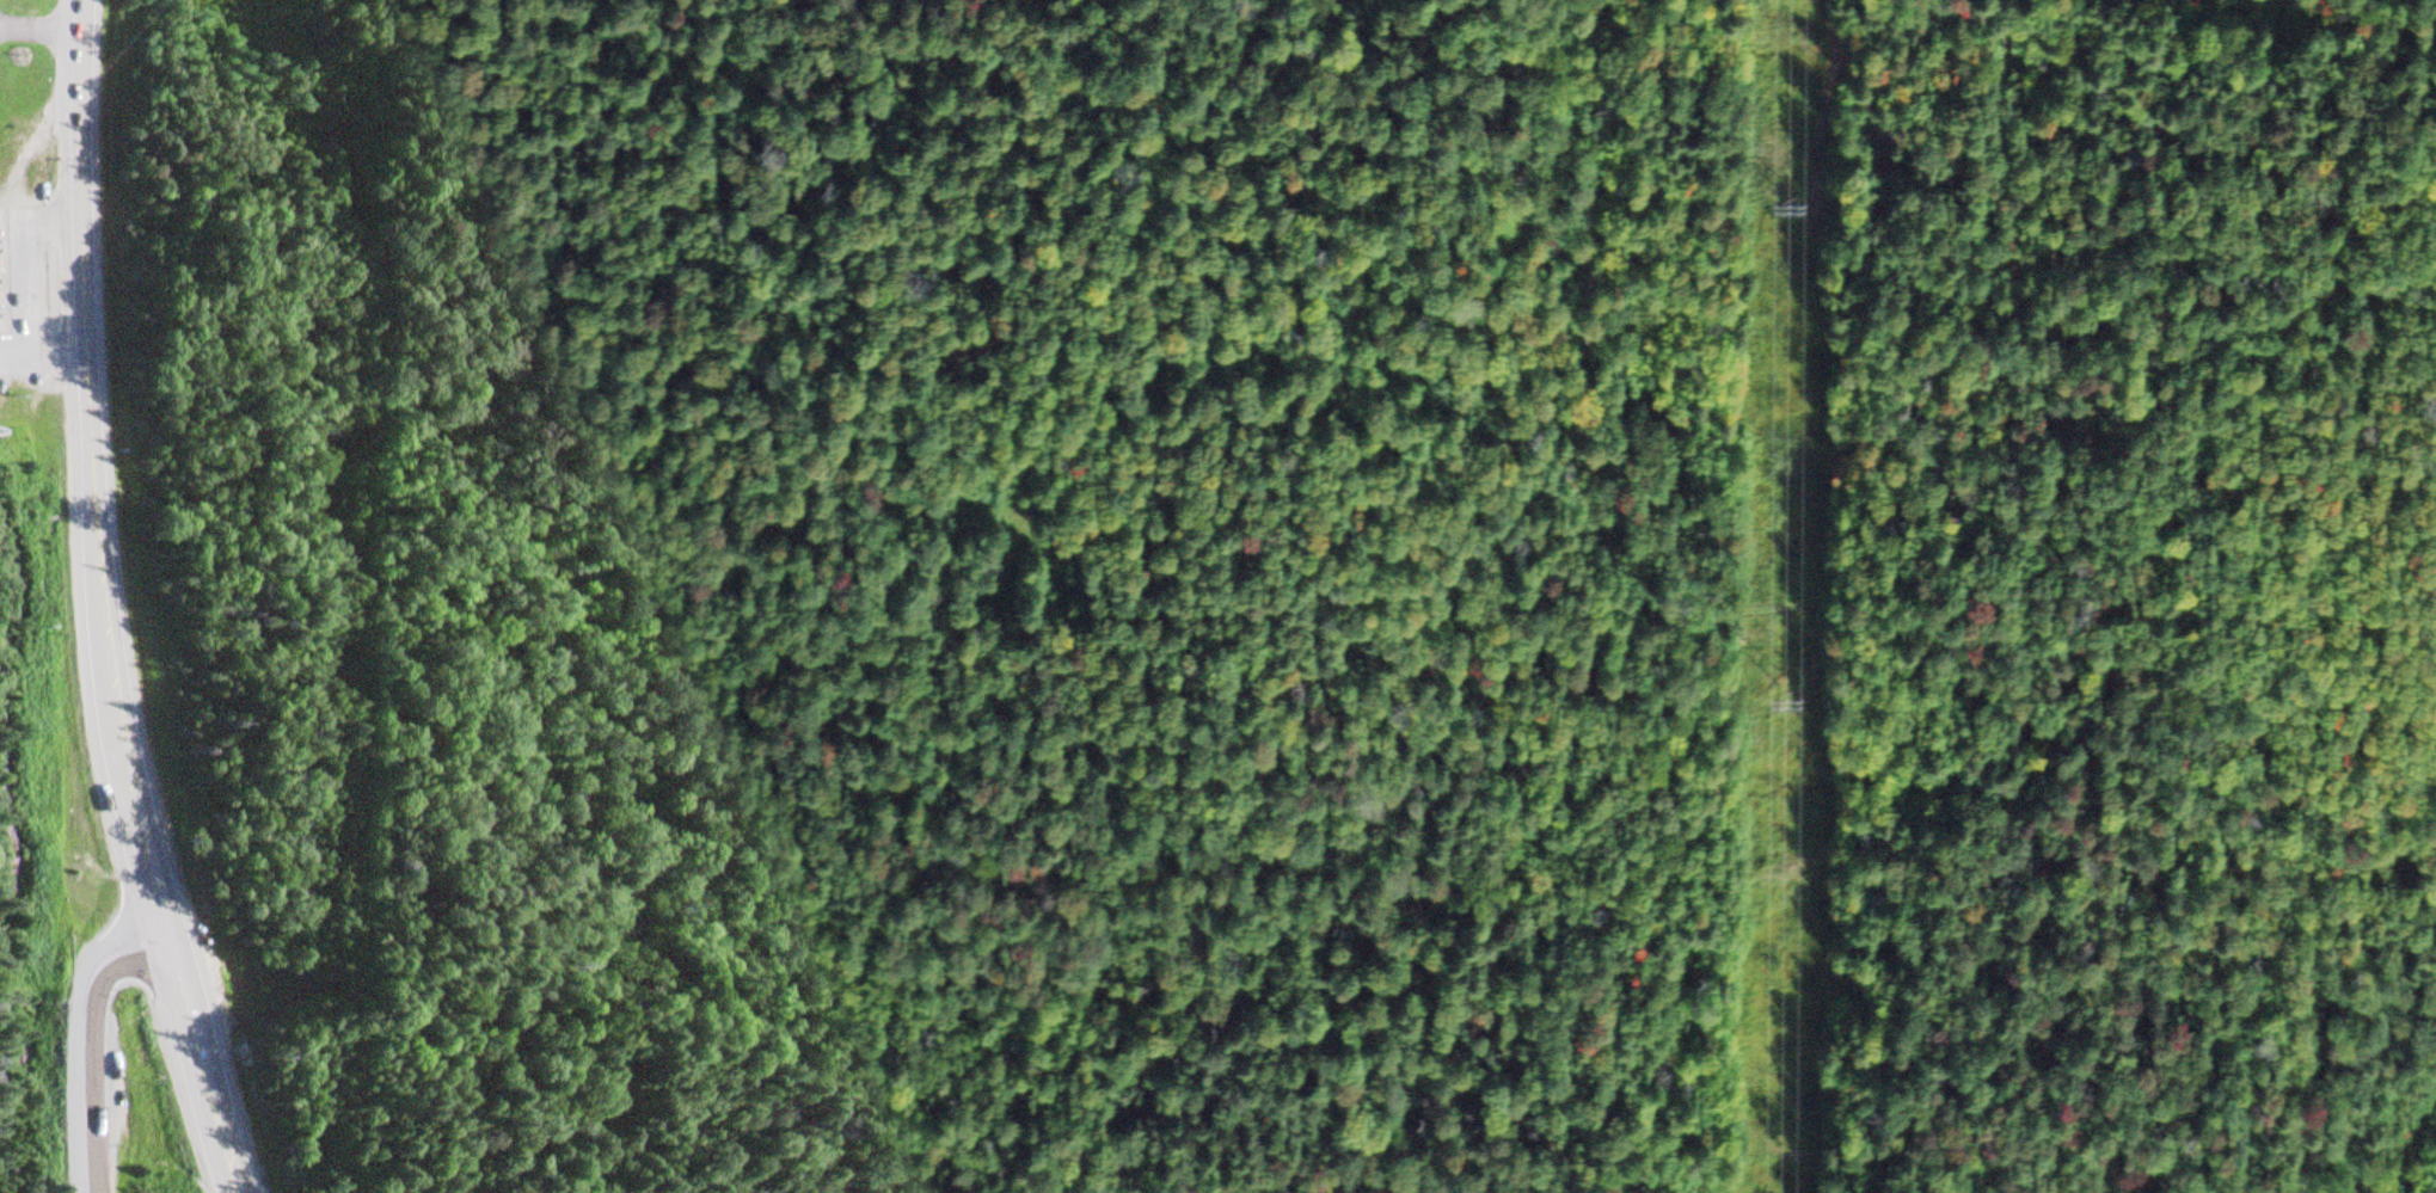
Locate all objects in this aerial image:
power tower: (1792, 192)
road: (2018, 289)
road: (84, 364)
river: (0, 641)
power tower: (1791, 683)
road: (139, 831)
river: (12, 893)
parking lot: (191, 964)
road: (85, 1040)
road: (200, 1064)
river: (23, 1093)

